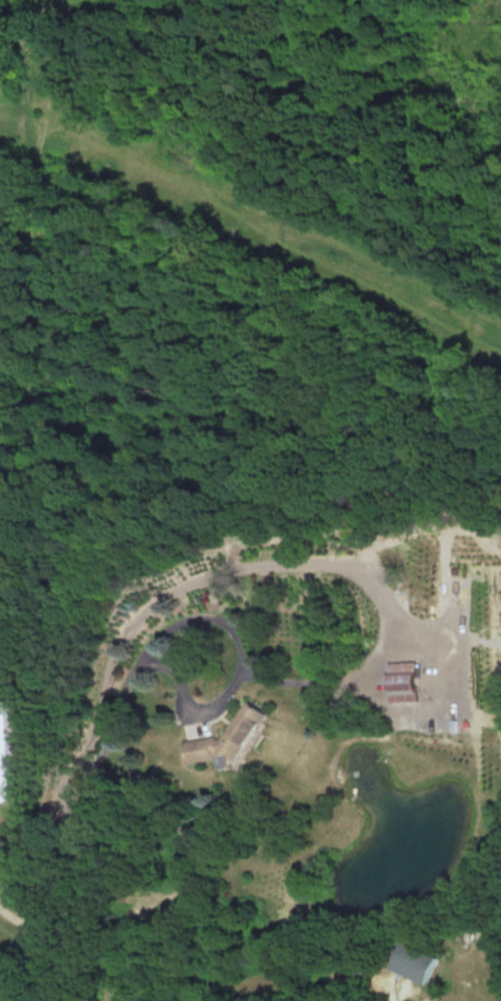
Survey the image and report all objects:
building: (404, 681)
road: (184, 695)
building: (234, 735)
building: (5, 752)
road: (48, 892)
road: (22, 921)
building: (416, 962)

